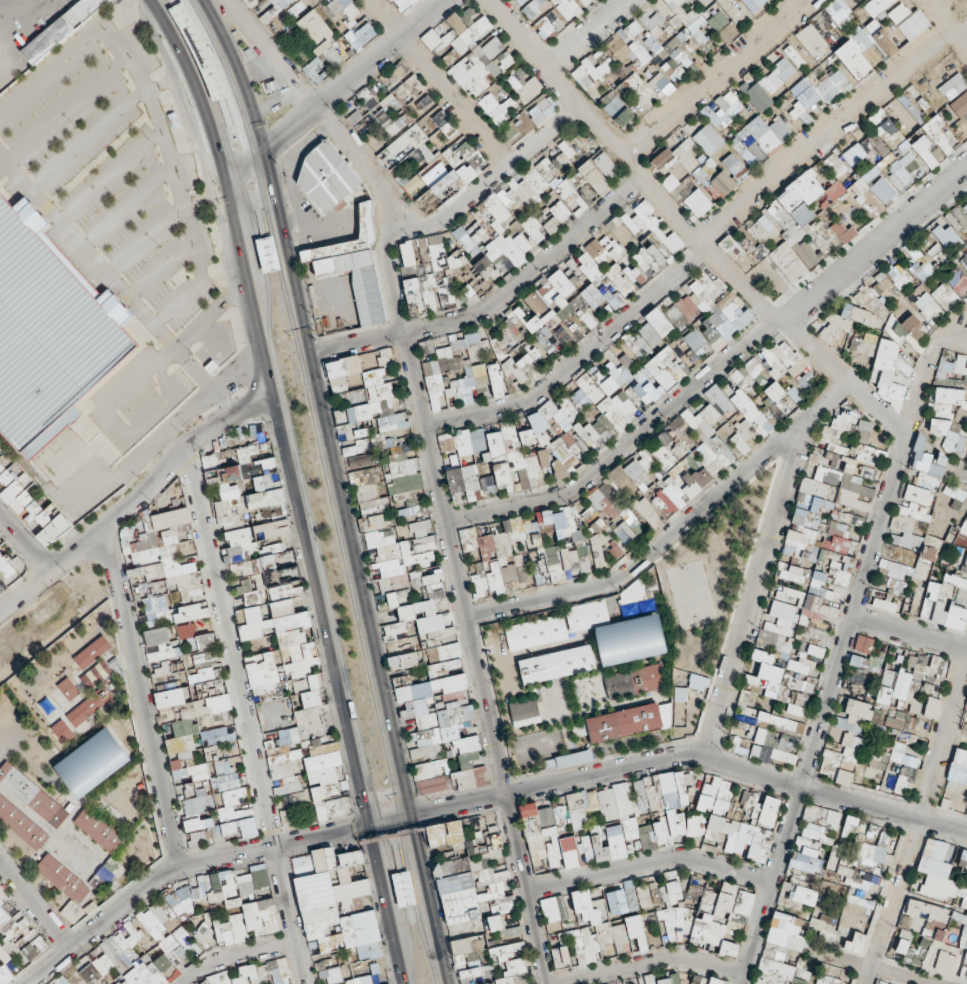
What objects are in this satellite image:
park: (693, 596)

